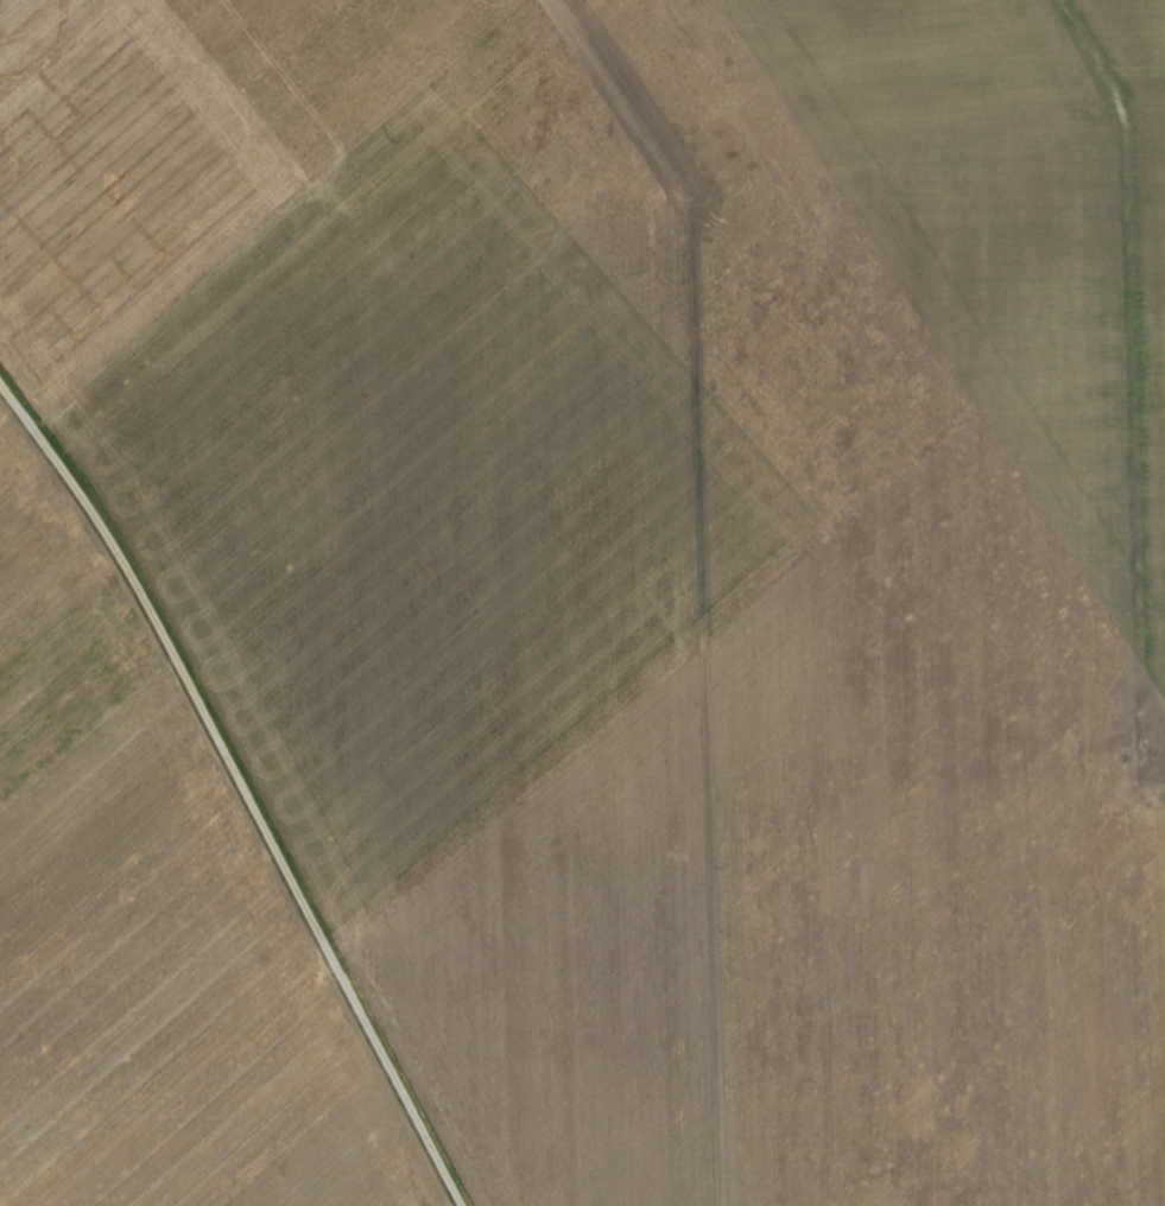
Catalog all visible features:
road: (226, 755)

